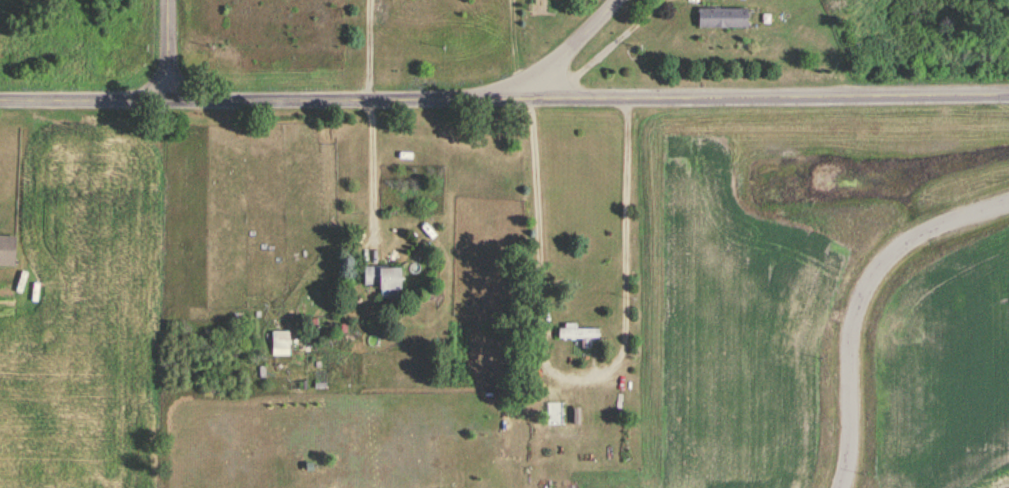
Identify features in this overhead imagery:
building: (723, 18)
road: (512, 41)
road: (170, 51)
road: (366, 52)
road: (547, 65)
road: (504, 105)
road: (374, 176)
building: (8, 251)
building: (386, 280)
road: (859, 300)
building: (578, 334)
building: (281, 344)
road: (584, 381)

